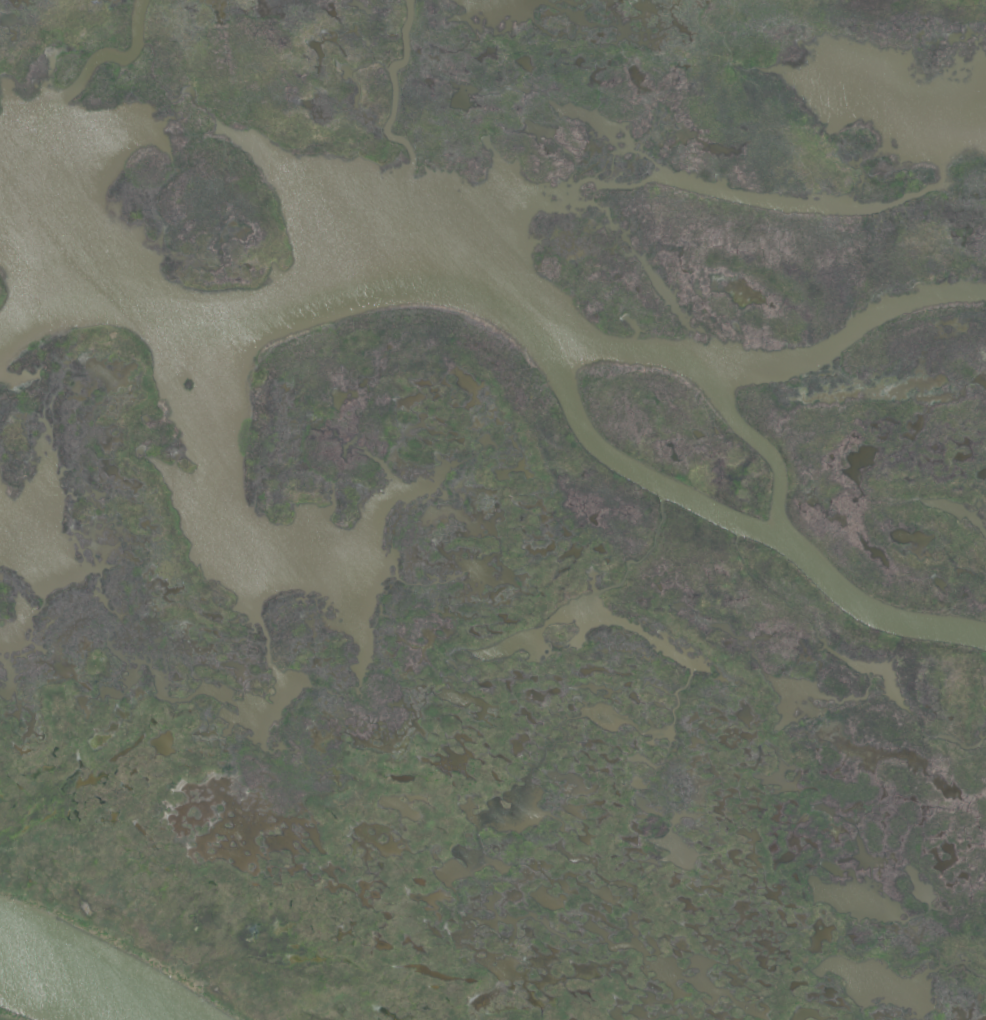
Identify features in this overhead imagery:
river: (37, 1000)

